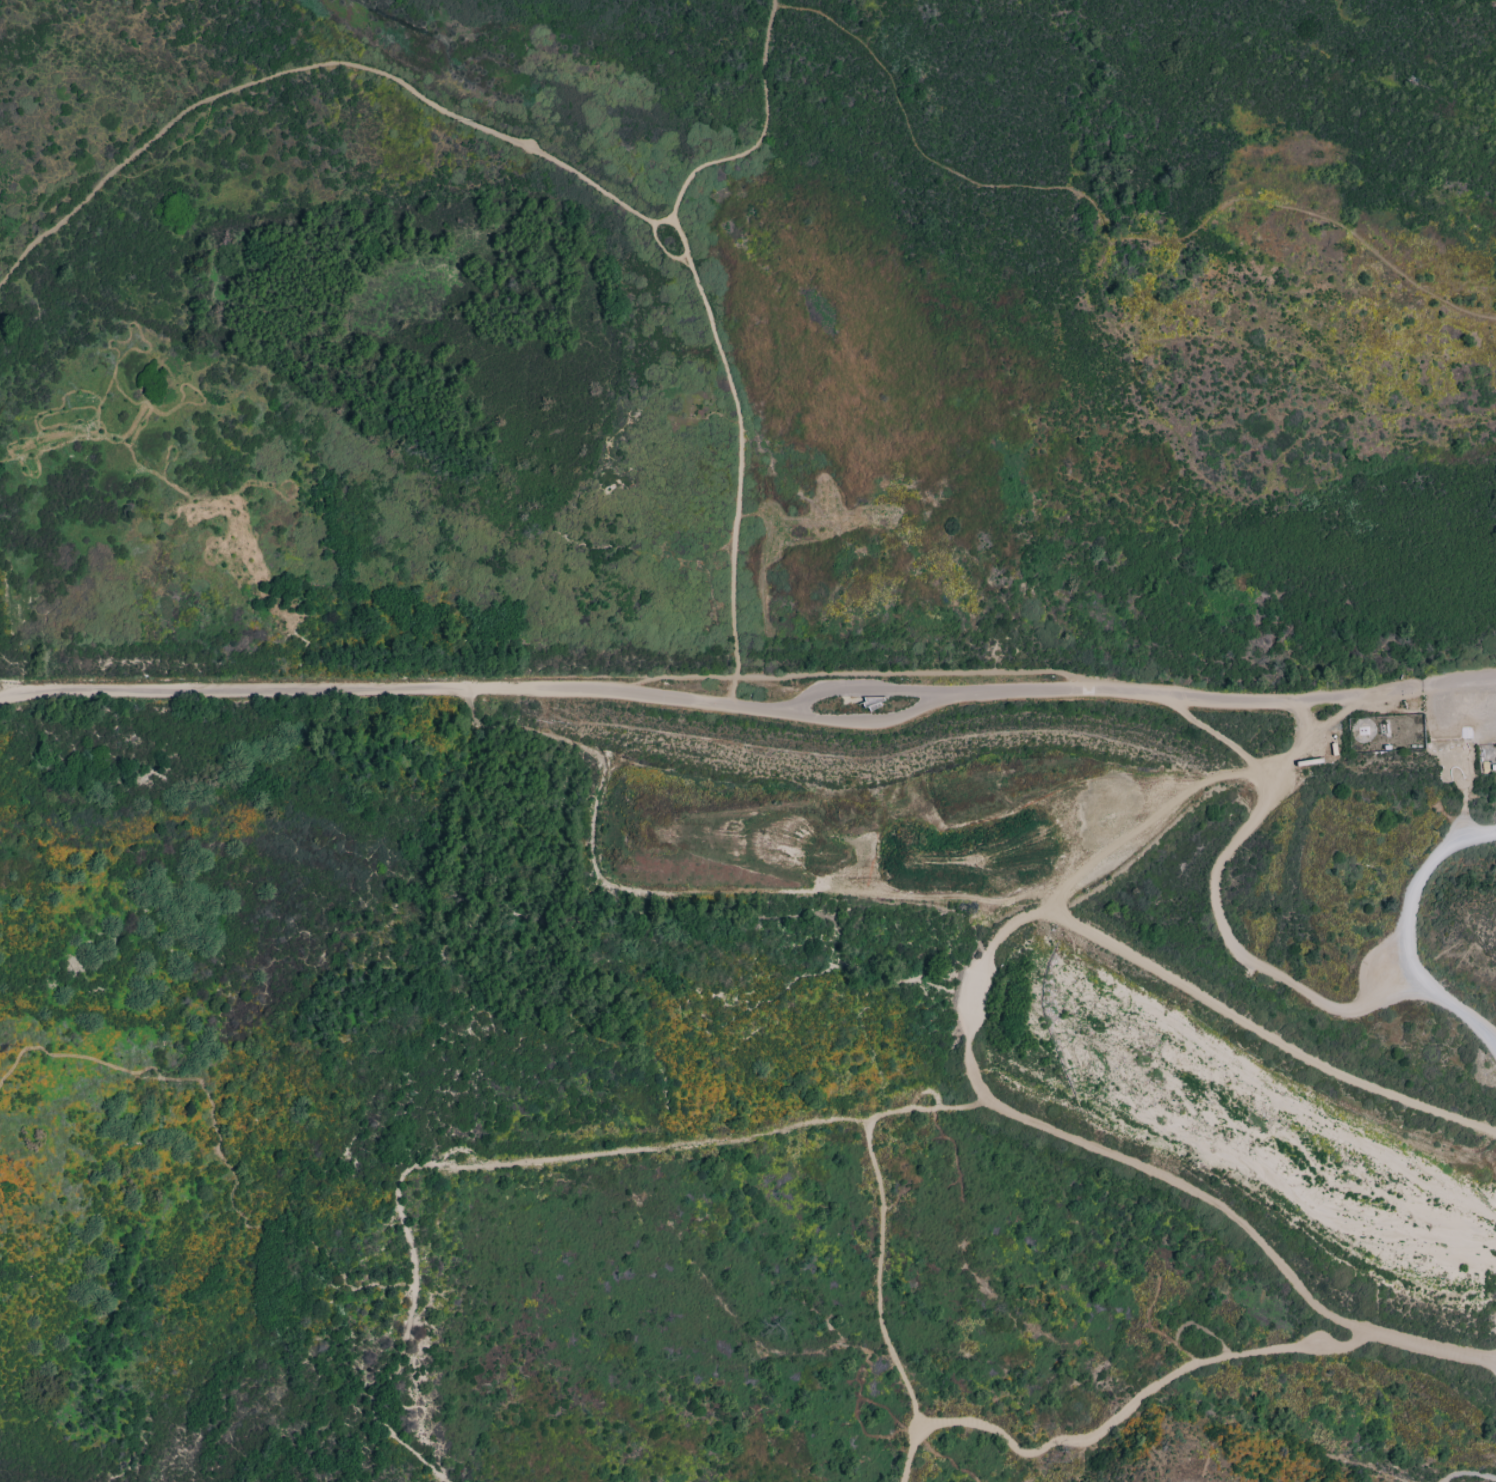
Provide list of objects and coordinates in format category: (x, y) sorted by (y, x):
road: (443, 108)
road: (1107, 225)
road: (740, 458)
road: (551, 676)
road: (1460, 687)
road: (717, 703)
parking lot: (1461, 721)
road: (874, 725)
road: (1317, 727)
road: (1217, 734)
road: (1474, 777)
road: (1222, 925)
road: (1406, 932)
road: (979, 969)
road: (223, 1145)
road: (516, 1160)
road: (878, 1277)
road: (731, 1311)
road: (1431, 1347)
road: (1137, 1403)
road: (909, 1455)

